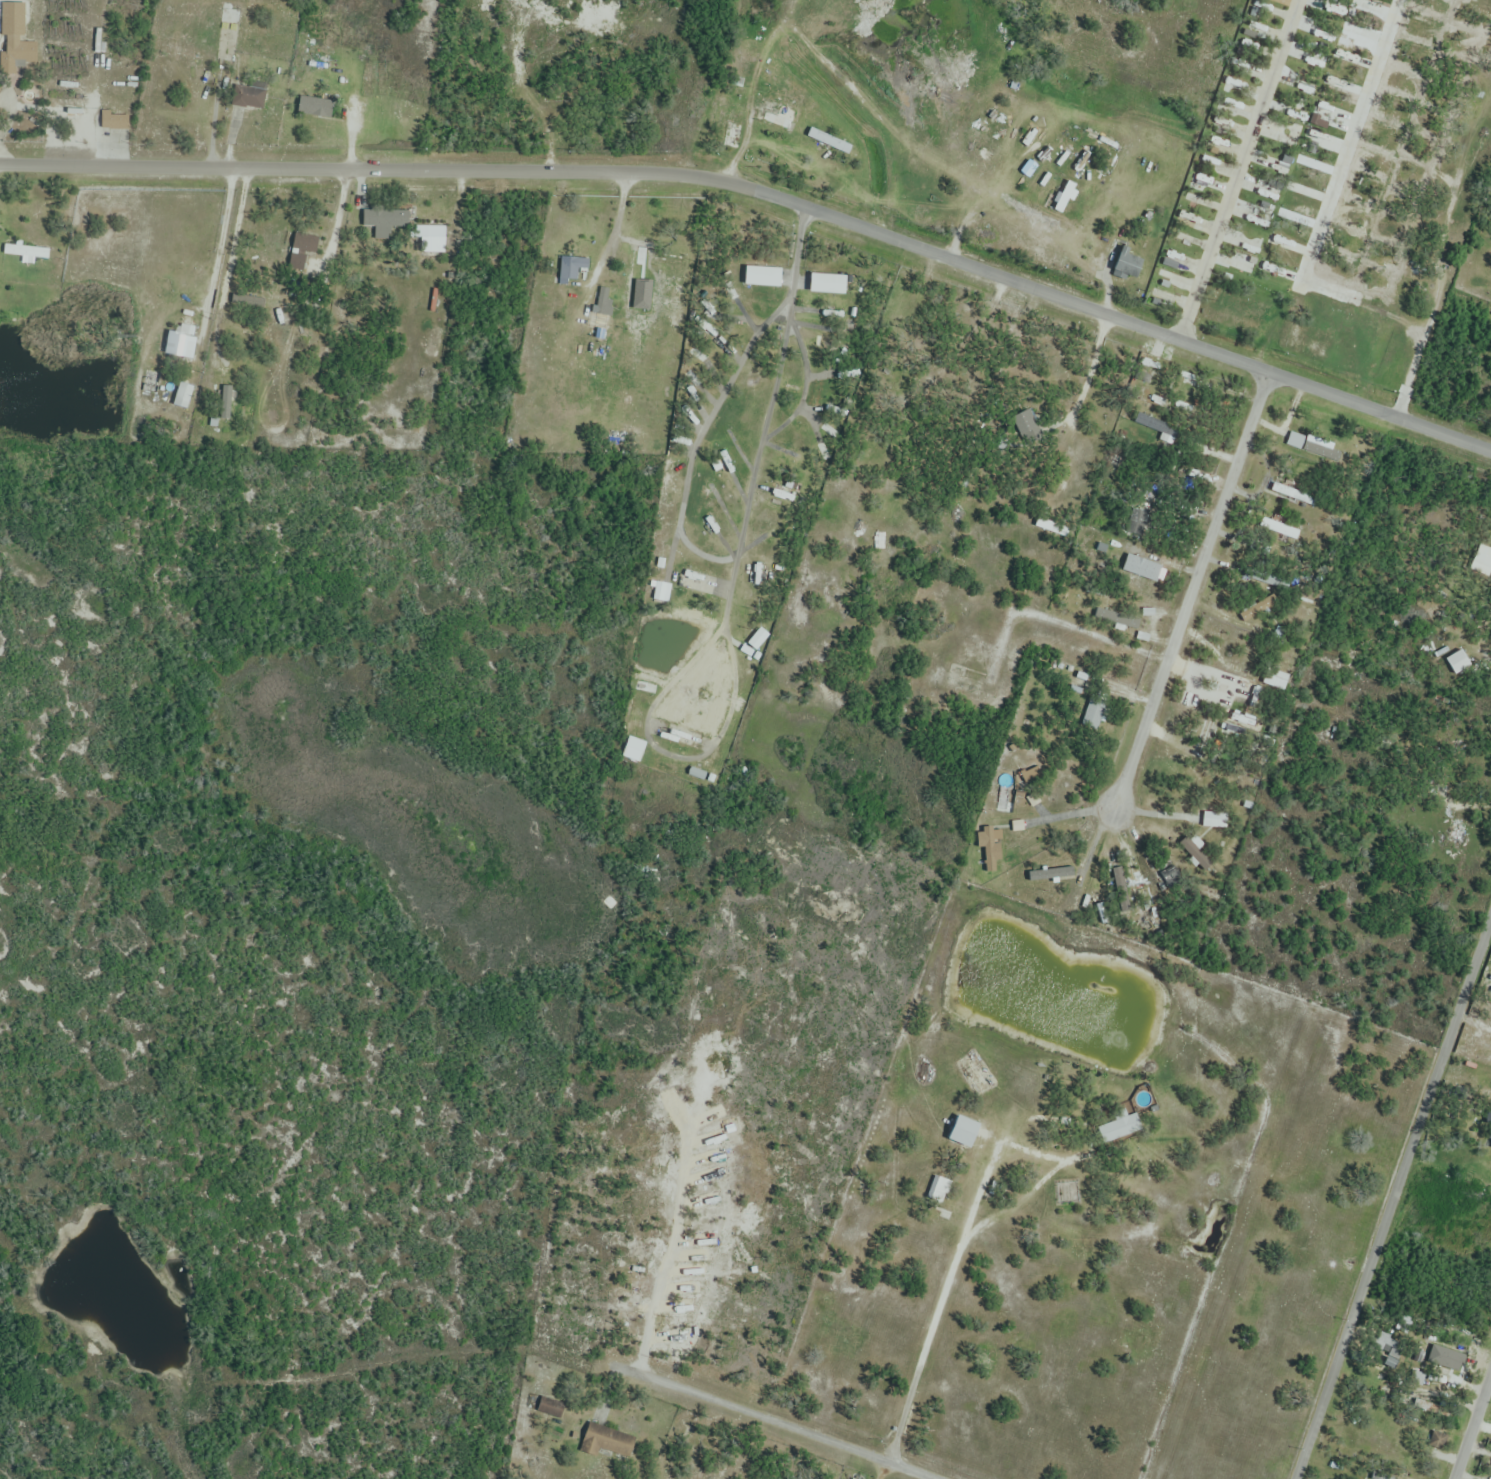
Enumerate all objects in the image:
building: (231, 17)
building: (15, 41)
building: (249, 95)
road: (211, 106)
building: (314, 107)
building: (782, 118)
building: (114, 122)
building: (732, 136)
road: (1237, 170)
road: (766, 195)
building: (382, 218)
road: (614, 228)
road: (214, 241)
building: (429, 241)
building: (302, 250)
building: (26, 253)
building: (660, 257)
building: (571, 268)
building: (762, 276)
building: (827, 284)
building: (182, 343)
building: (151, 382)
building: (227, 395)
building: (180, 399)
road: (763, 420)
building: (1153, 424)
building: (1025, 425)
building: (1315, 450)
building: (1289, 490)
building: (1048, 525)
building: (1278, 525)
building: (1483, 557)
building: (696, 582)
road: (1191, 591)
building: (1255, 608)
building: (1108, 617)
building: (1457, 662)
building: (1276, 679)
building: (1229, 688)
building: (1094, 711)
building: (687, 715)
building: (683, 737)
building: (1214, 820)
building: (990, 847)
building: (1194, 854)
building: (1053, 875)
building: (1169, 881)
building: (976, 1073)
building: (1488, 1117)
building: (1117, 1129)
building: (963, 1132)
building: (1489, 1144)
building: (938, 1192)
road: (1393, 1197)
building: (1405, 1324)
building: (1393, 1349)
building: (550, 1407)
building: (1426, 1407)
road: (774, 1421)
road: (1471, 1423)
building: (1421, 1434)
building: (606, 1441)
building: (1378, 1477)

